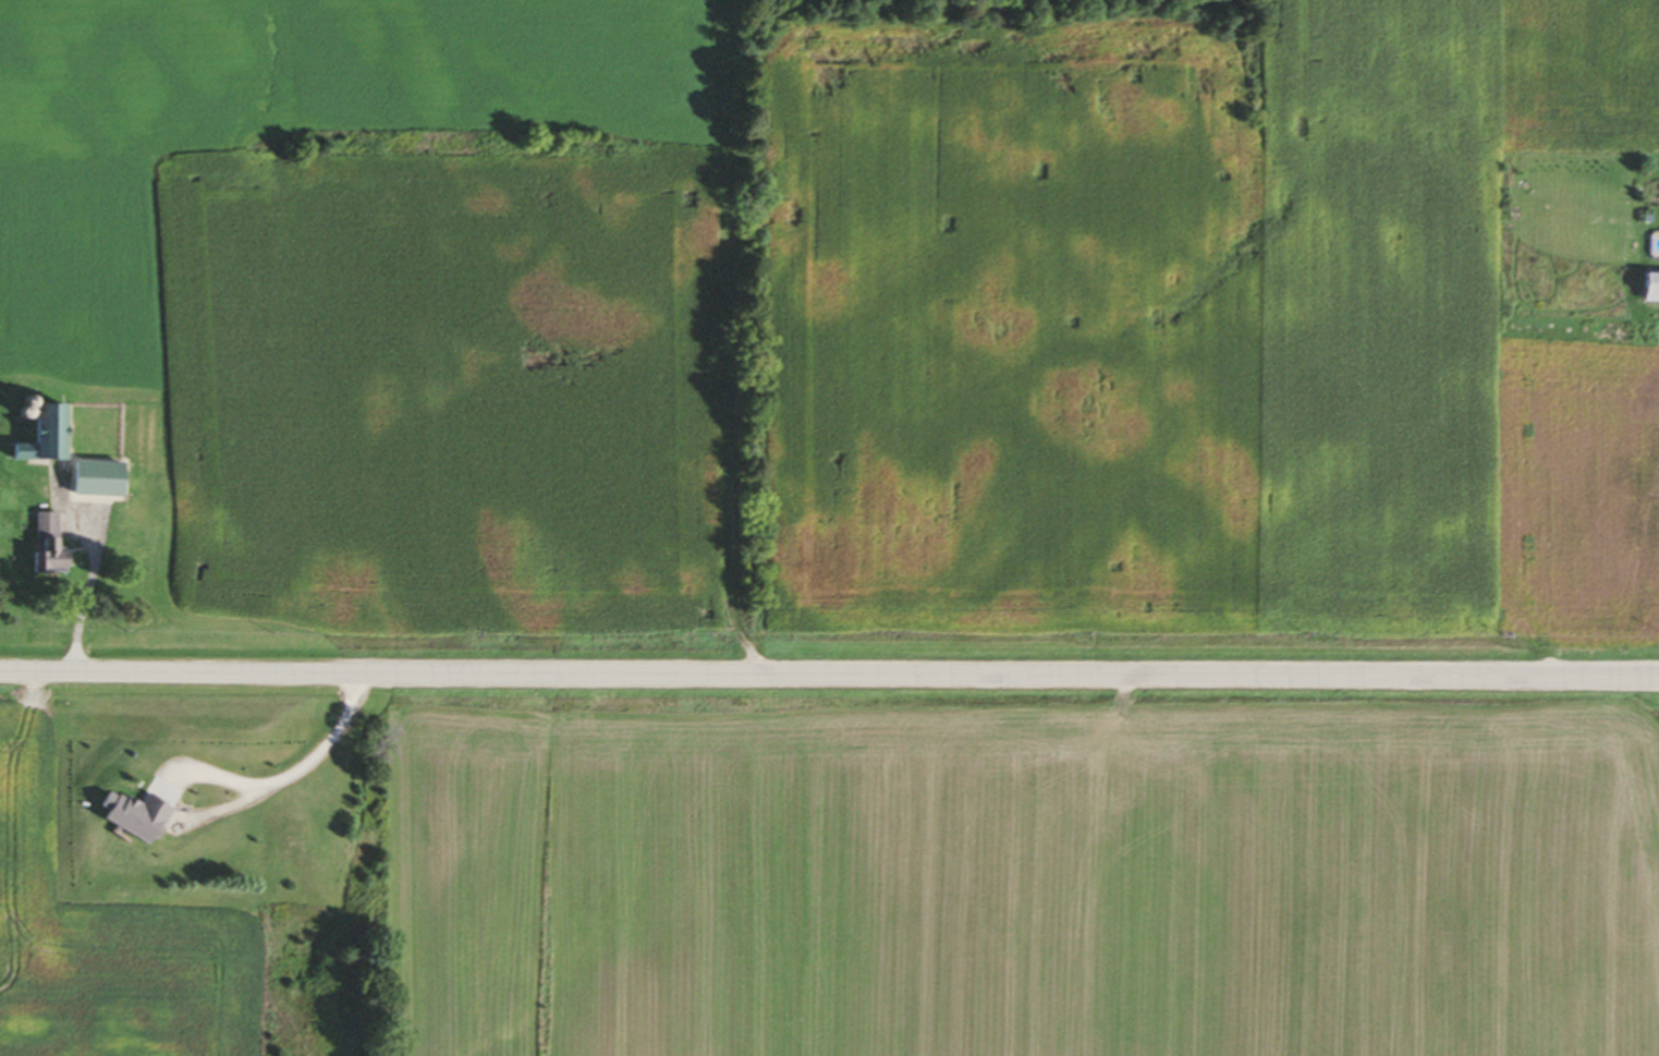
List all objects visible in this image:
building: (1646, 286)
building: (51, 437)
building: (53, 546)
road: (829, 675)
building: (144, 813)

